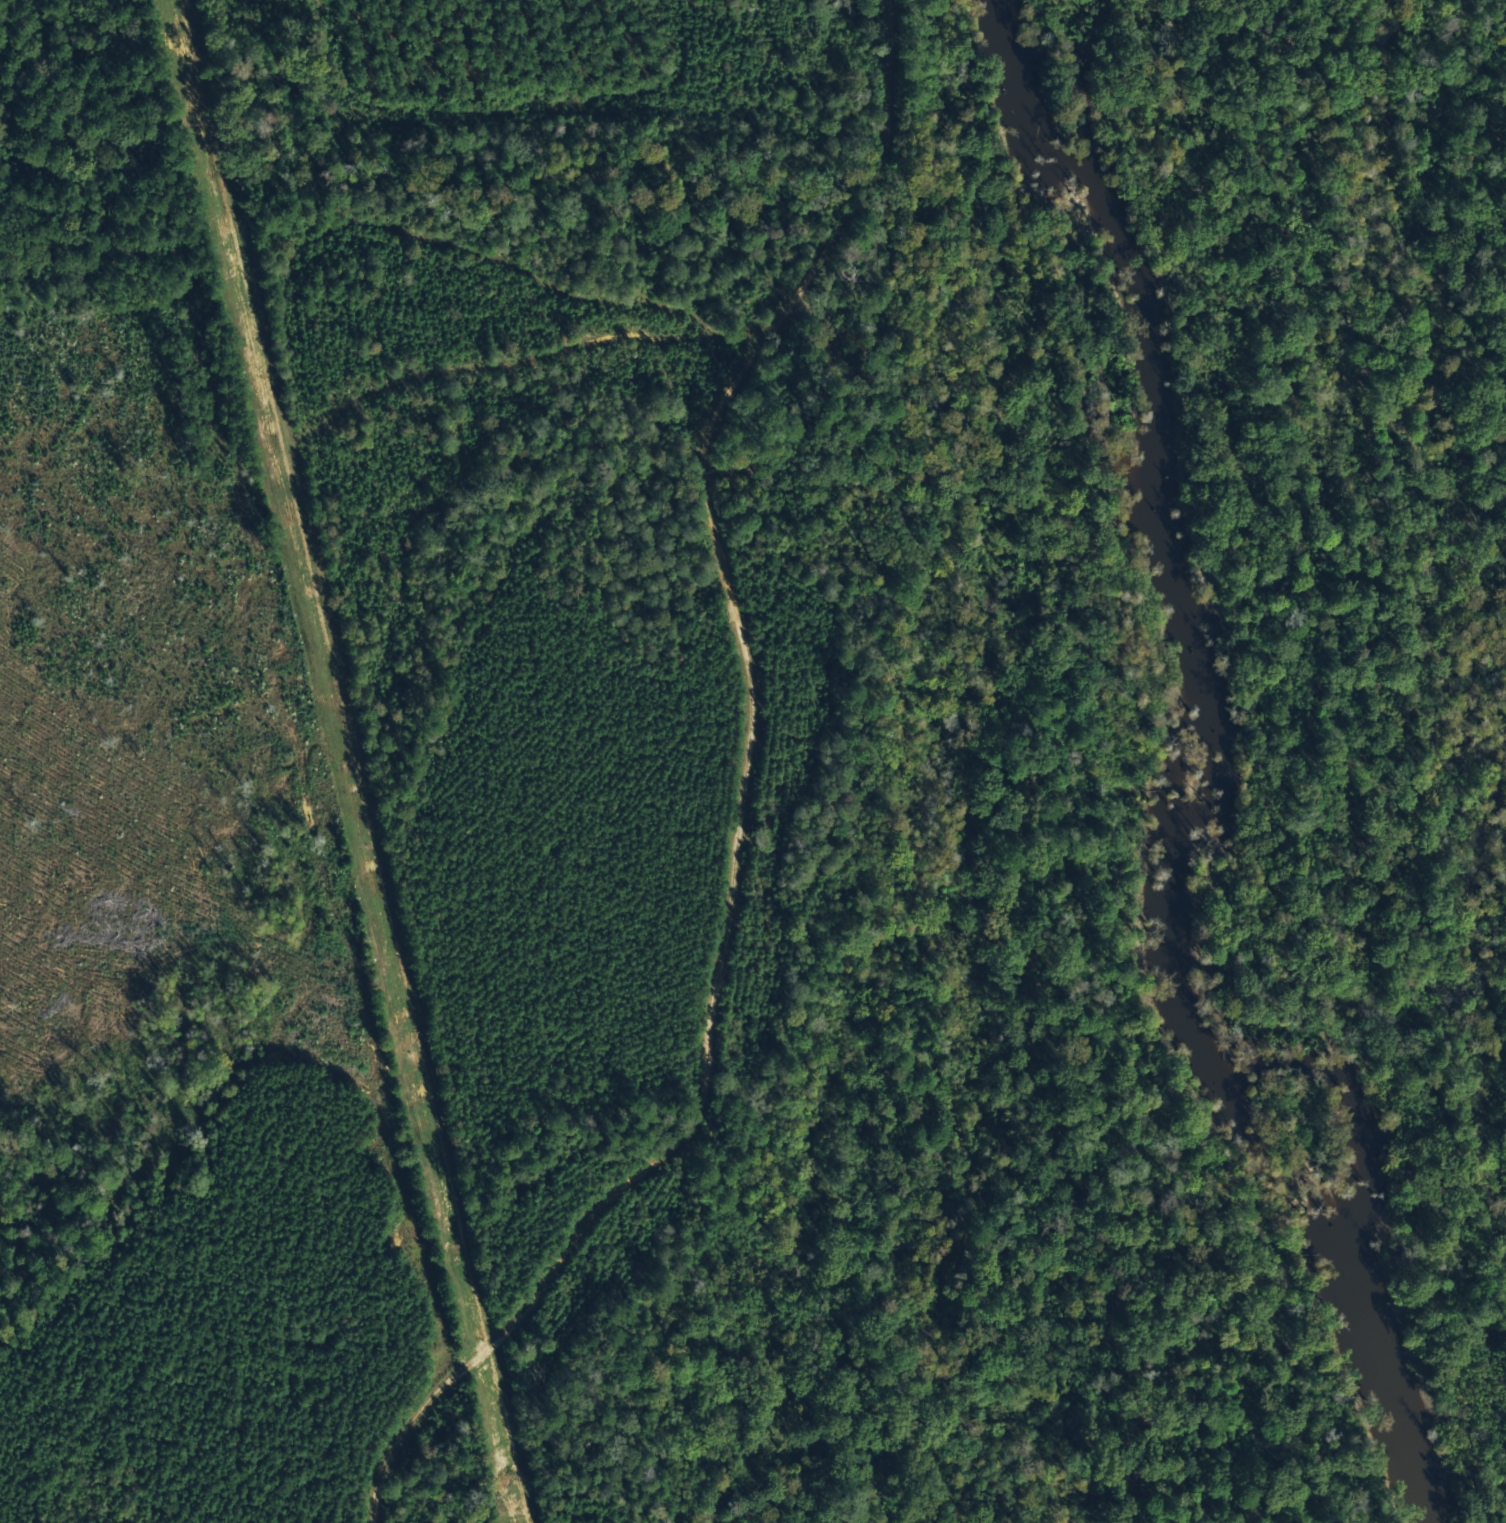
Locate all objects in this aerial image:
road: (713, 796)

